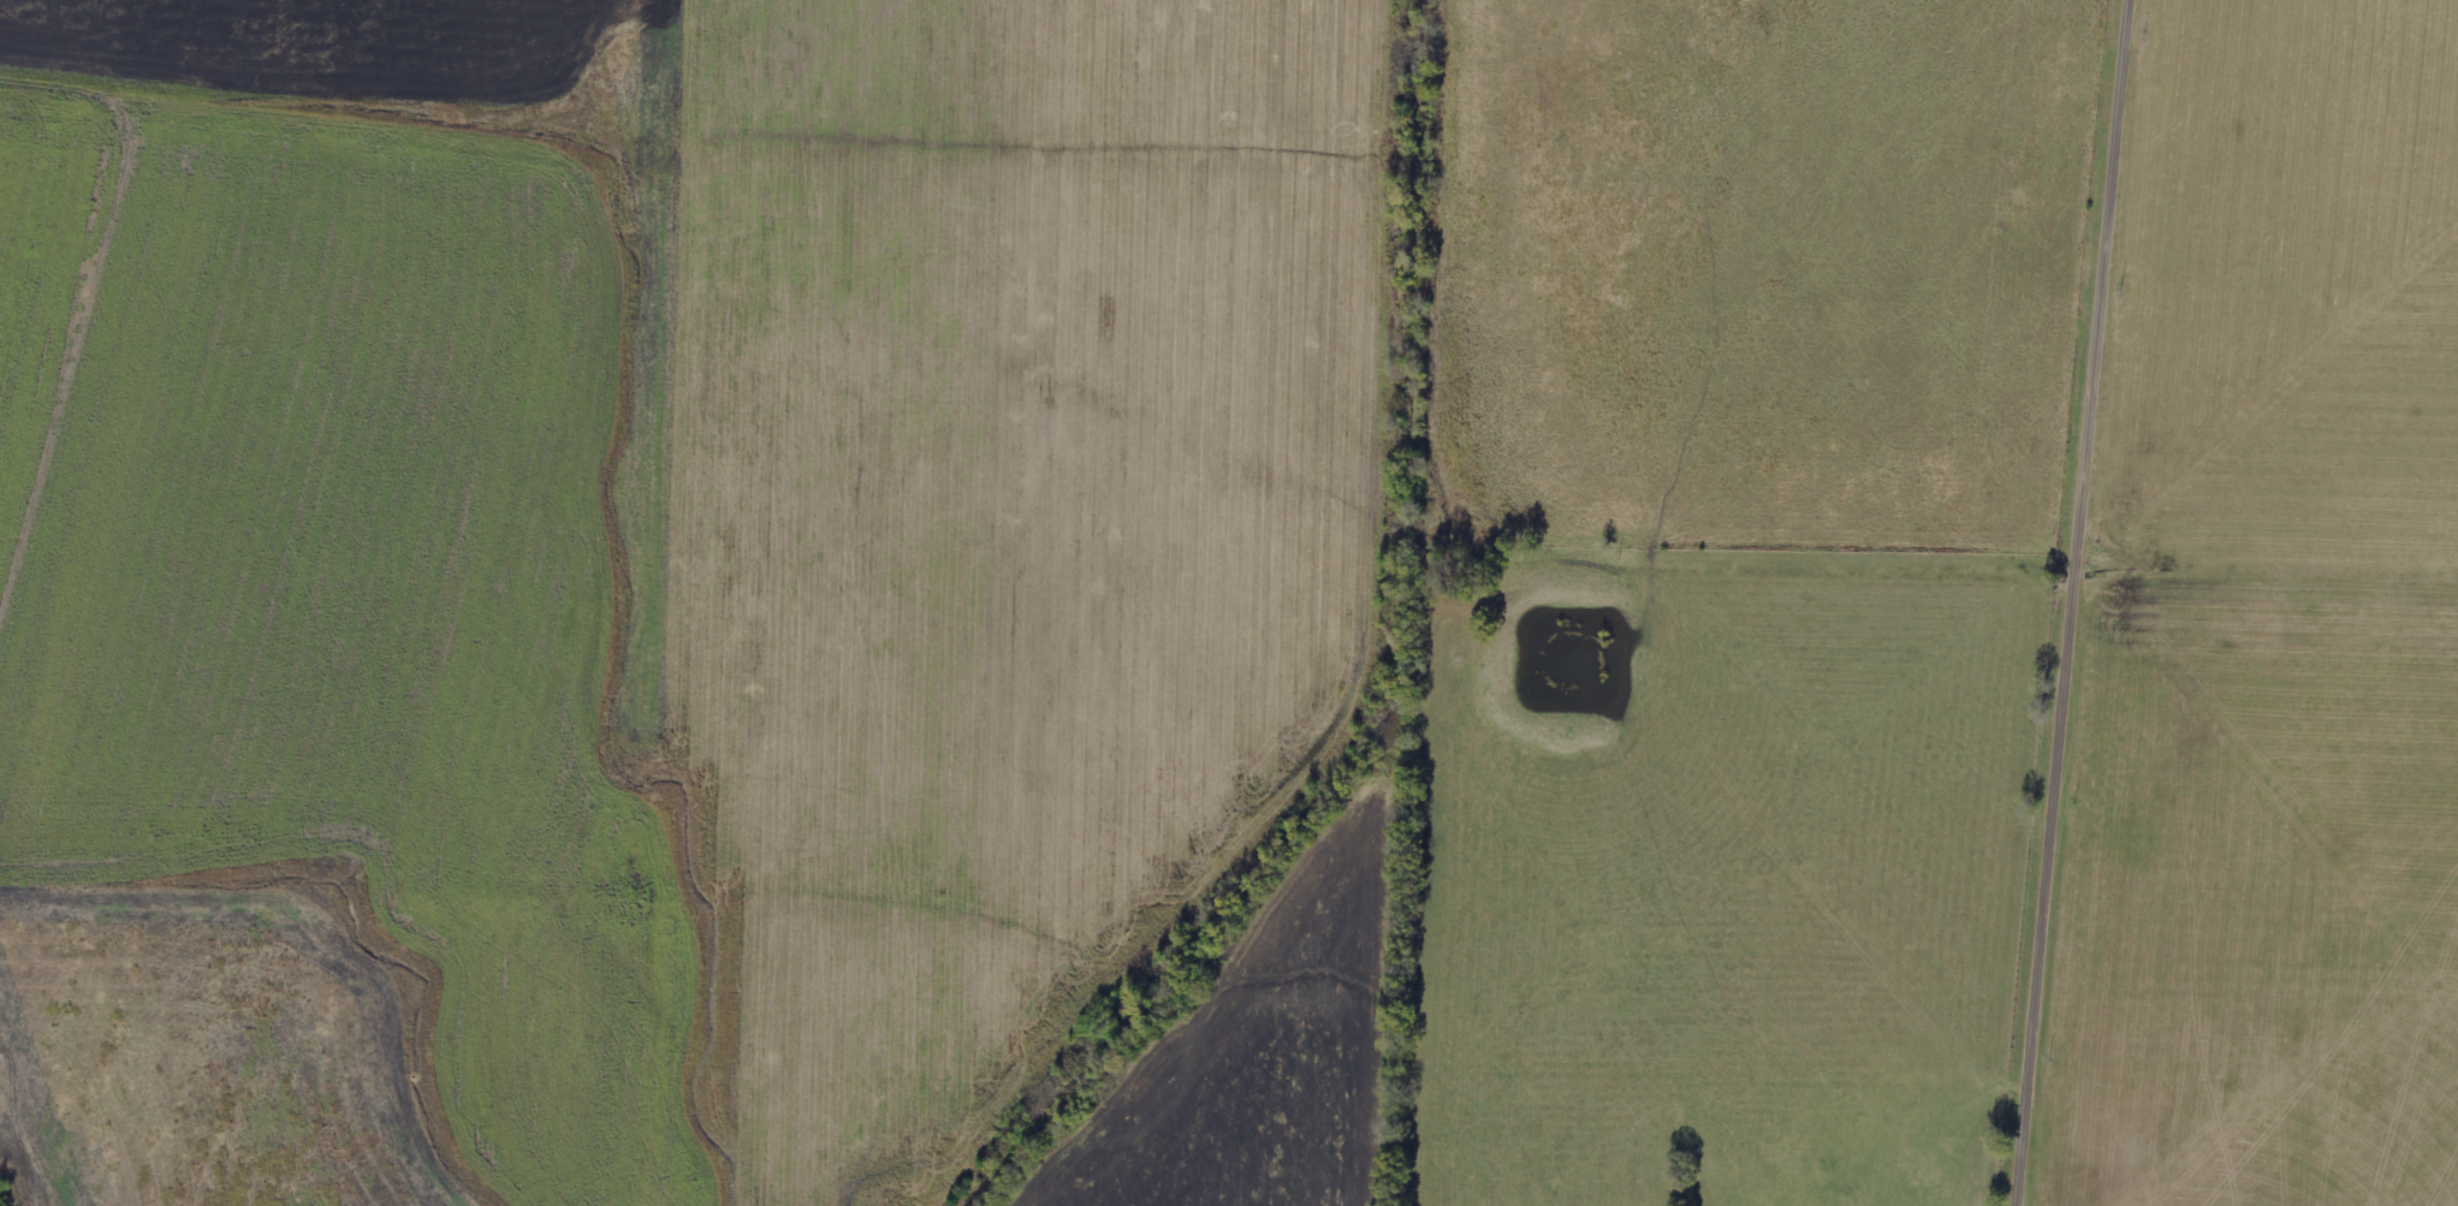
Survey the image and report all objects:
road: (2080, 602)

